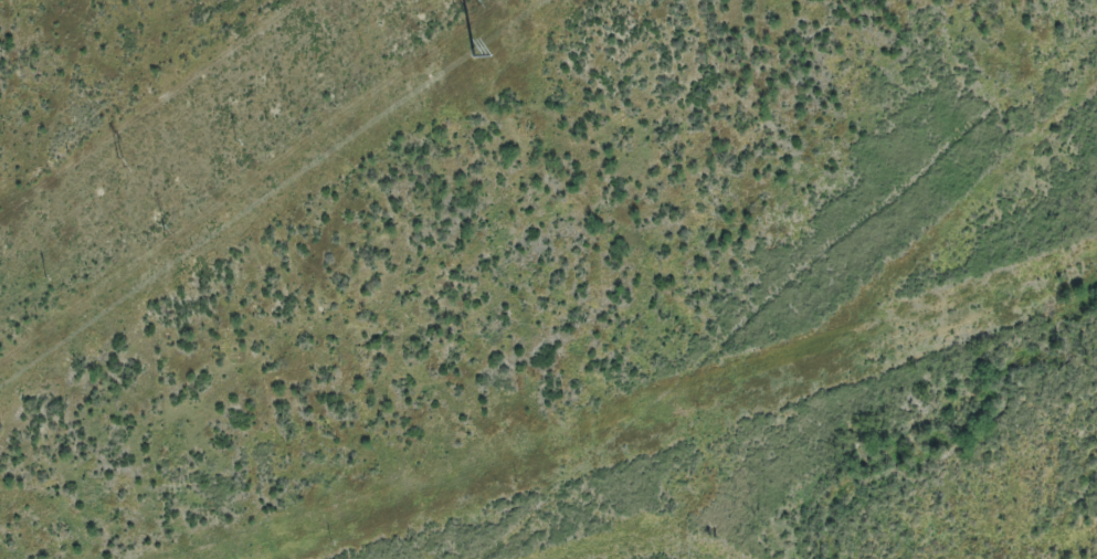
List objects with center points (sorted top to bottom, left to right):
power tower: (477, 7)
power tower: (458, 59)
power tower: (236, 139)
power tower: (114, 166)
power tower: (45, 275)

